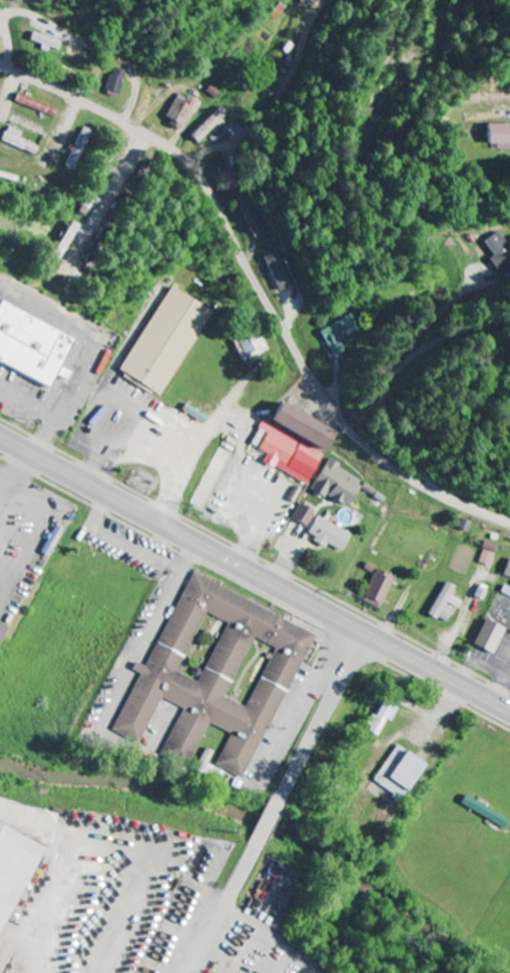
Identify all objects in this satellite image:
building: (45, 42)
building: (116, 81)
building: (35, 106)
building: (180, 110)
building: (209, 125)
building: (498, 135)
building: (17, 142)
building: (78, 149)
building: (250, 216)
building: (65, 241)
building: (500, 252)
building: (281, 271)
road: (259, 288)
building: (340, 334)
building: (164, 343)
building: (34, 344)
building: (251, 347)
building: (195, 415)
road: (460, 417)
building: (292, 444)
building: (337, 484)
building: (303, 516)
building: (329, 535)
building: (52, 541)
building: (488, 554)
building: (507, 570)
road: (254, 572)
building: (378, 588)
building: (445, 603)
building: (3, 630)
building: (488, 636)
building: (217, 673)
building: (381, 718)
building: (399, 773)
road: (279, 803)
building: (484, 811)
river: (248, 827)
building: (13, 867)

